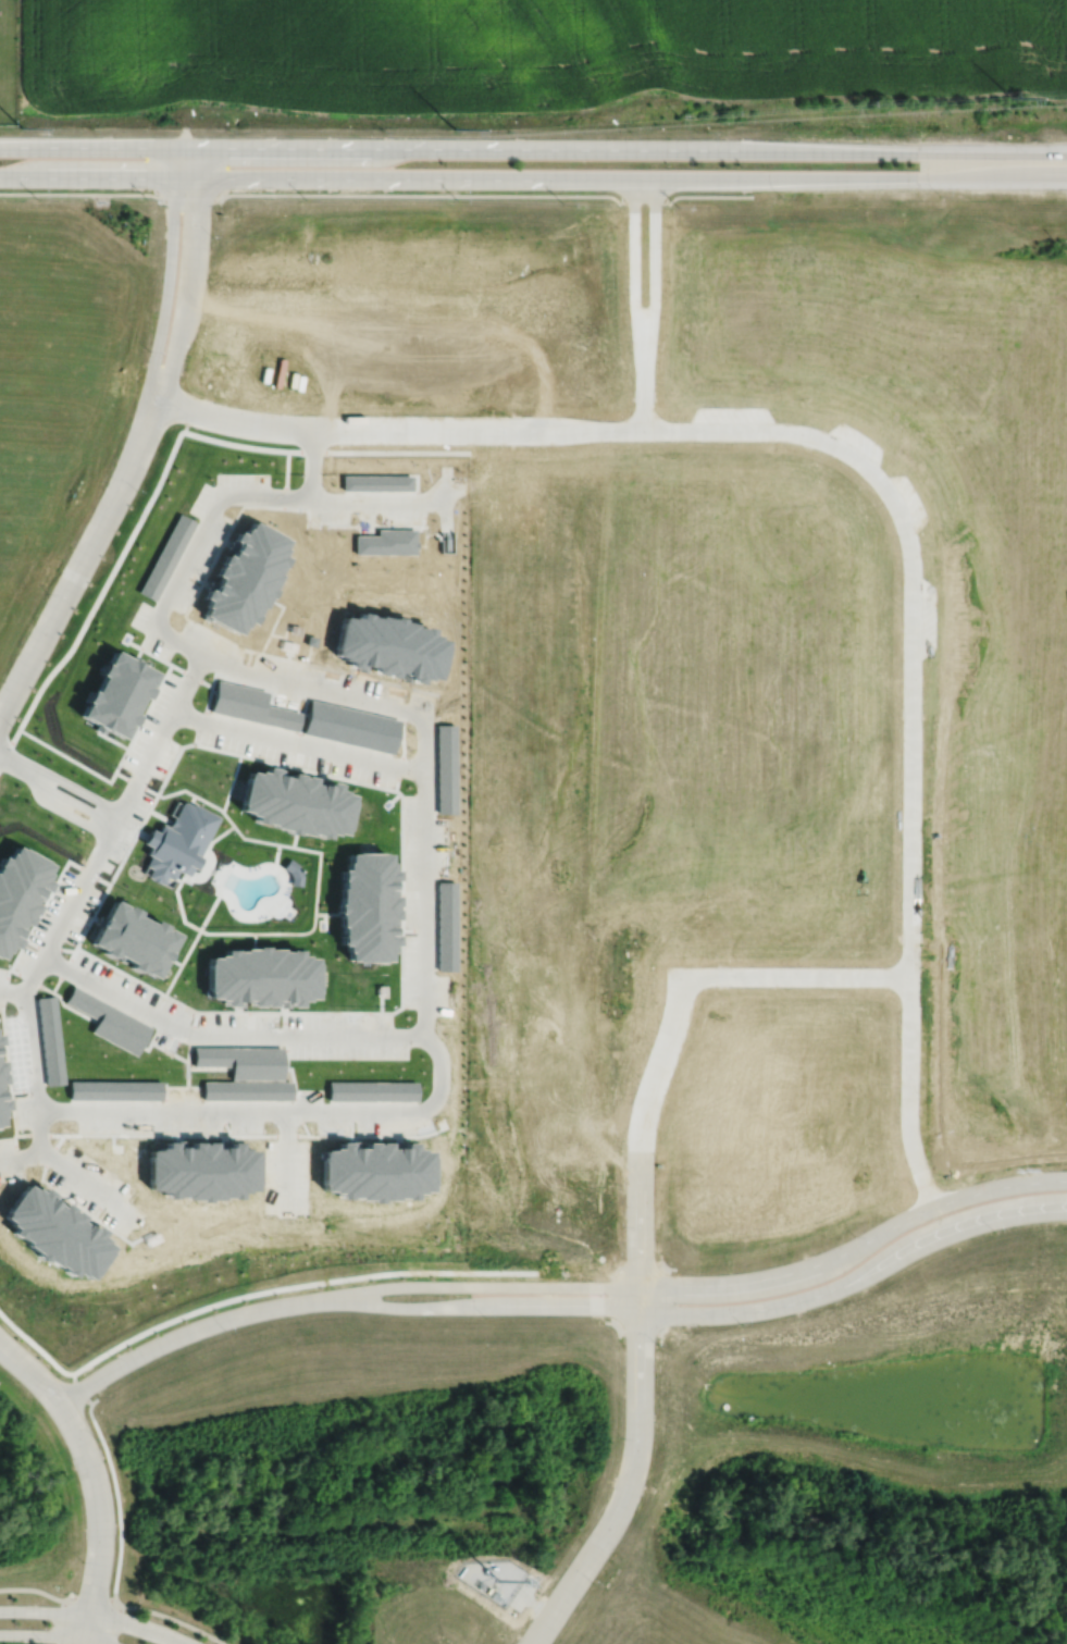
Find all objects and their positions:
road: (381, 149)
road: (914, 153)
road: (814, 177)
road: (281, 181)
road: (80, 194)
road: (495, 195)
road: (196, 196)
road: (164, 319)
road: (184, 323)
road: (510, 429)
road: (311, 462)
road: (162, 469)
road: (389, 500)
road: (194, 547)
road: (61, 606)
road: (311, 691)
road: (161, 732)
road: (298, 742)
road: (60, 778)
road: (57, 792)
road: (66, 813)
road: (113, 821)
road: (909, 835)
road: (423, 878)
road: (794, 979)
road: (11, 990)
road: (224, 1033)
road: (27, 1045)
road: (270, 1111)
road: (638, 1142)
road: (20, 1155)
road: (283, 1158)
road: (700, 1285)
road: (247, 1294)
road: (700, 1315)
road: (182, 1336)
road: (96, 1475)
road: (629, 1492)
road: (35, 1587)
road: (94, 1603)
road: (92, 1616)
road: (174, 1619)
road: (65, 1622)
road: (113, 1623)
road: (49, 1634)

